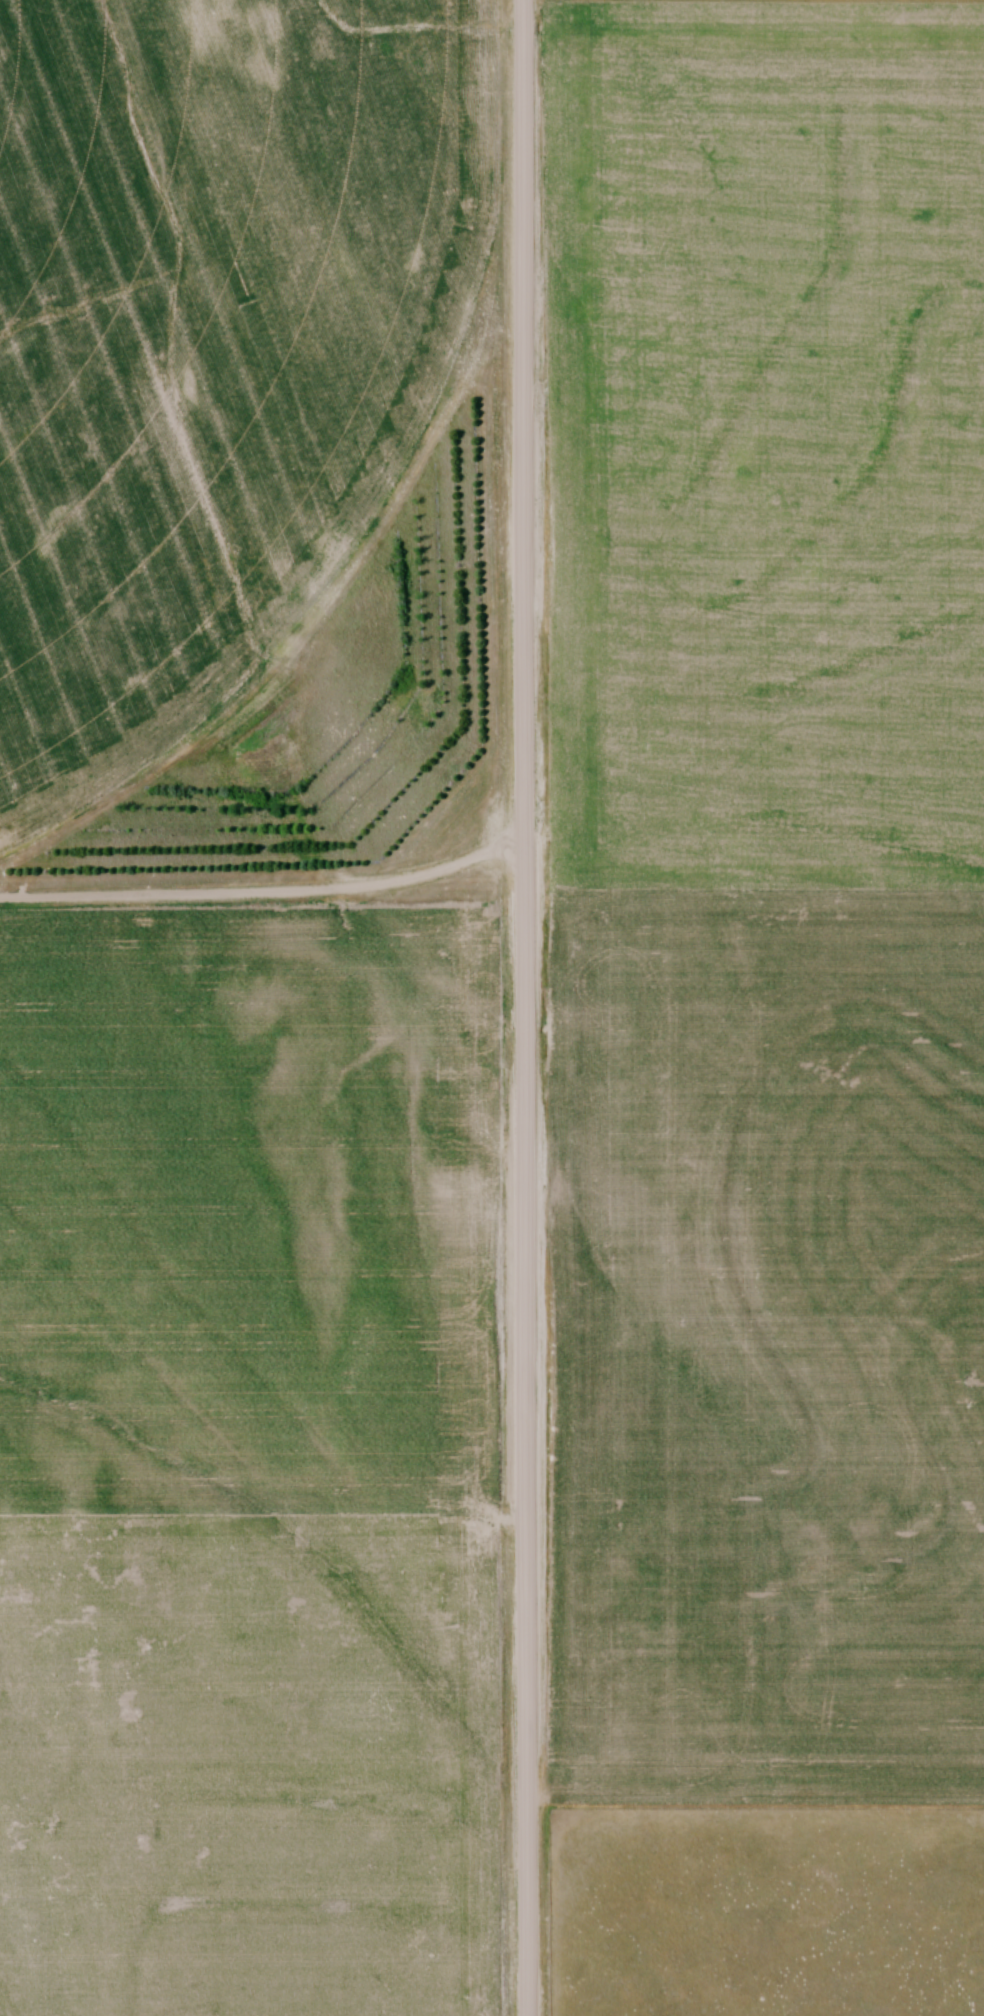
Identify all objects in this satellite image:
road: (527, 1008)

